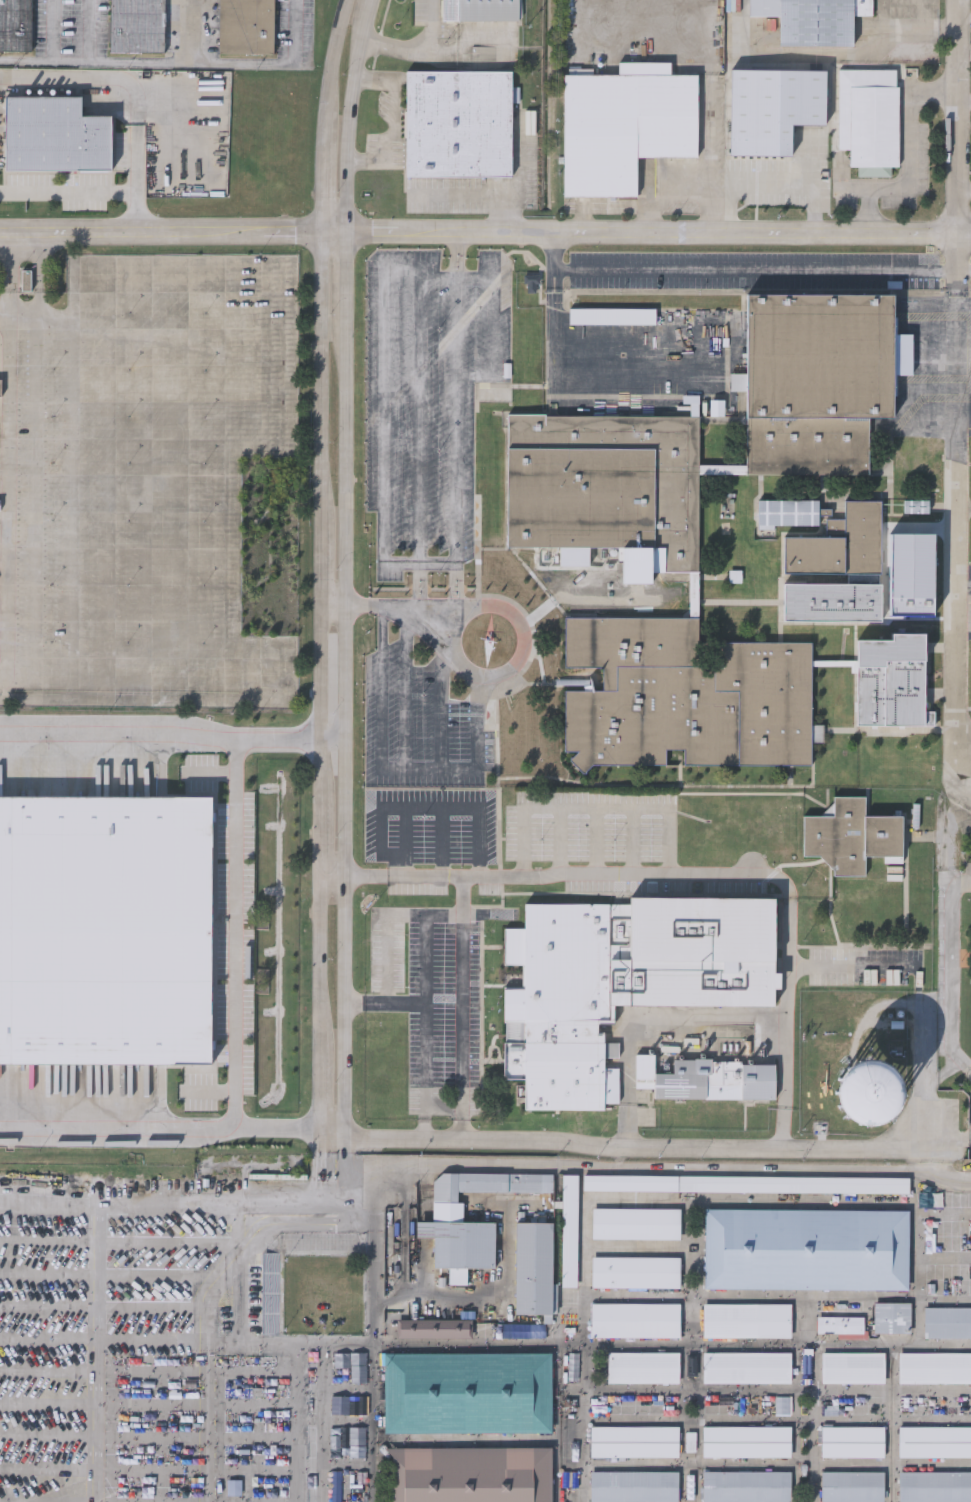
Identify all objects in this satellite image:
building: (480, 9)
road: (882, 14)
building: (813, 19)
building: (15, 25)
building: (137, 25)
building: (245, 25)
road: (431, 26)
road: (189, 30)
road: (922, 34)
building: (73, 43)
road: (390, 48)
road: (24, 57)
road: (69, 58)
road: (219, 61)
road: (966, 102)
building: (772, 108)
road: (962, 116)
building: (868, 117)
road: (392, 119)
building: (458, 122)
building: (624, 126)
building: (56, 132)
road: (912, 156)
road: (522, 163)
road: (773, 185)
road: (86, 192)
road: (485, 192)
road: (674, 192)
road: (485, 231)
road: (459, 255)
road: (200, 258)
road: (962, 261)
parking lot: (755, 271)
road: (763, 271)
road: (12, 276)
road: (40, 276)
road: (440, 279)
building: (534, 283)
building: (614, 317)
road: (12, 320)
road: (109, 321)
road: (494, 327)
building: (820, 357)
road: (566, 366)
building: (0, 384)
parking lot: (431, 403)
road: (385, 429)
building: (808, 447)
road: (724, 468)
building: (607, 483)
road: (7, 507)
road: (36, 507)
road: (72, 508)
road: (109, 508)
road: (146, 508)
building: (789, 514)
building: (840, 542)
road: (958, 584)
road: (460, 585)
road: (422, 586)
road: (695, 594)
building: (830, 600)
road: (399, 607)
road: (197, 608)
road: (240, 638)
road: (458, 653)
road: (835, 662)
building: (894, 680)
road: (409, 688)
road: (444, 688)
building: (684, 694)
road: (268, 696)
flagpole: (514, 697)
flagpole: (513, 703)
flagpole: (511, 710)
parking lot: (423, 713)
road: (172, 732)
road: (398, 769)
road: (501, 774)
road: (429, 809)
parking lot: (430, 826)
parking lot: (594, 827)
building: (851, 834)
road: (405, 840)
road: (443, 841)
road: (596, 871)
road: (357, 873)
road: (962, 878)
road: (463, 894)
road: (389, 921)
road: (236, 932)
building: (146, 953)
road: (853, 966)
parking lot: (869, 967)
road: (954, 969)
building: (620, 980)
parking lot: (435, 1000)
road: (789, 1001)
road: (404, 1002)
road: (426, 1011)
road: (464, 1011)
road: (668, 1022)
building: (9, 1056)
road: (484, 1059)
road: (962, 1067)
building: (703, 1078)
building: (865, 1093)
water tower: (865, 1093)
road: (446, 1109)
road: (630, 1127)
road: (166, 1129)
road: (787, 1130)
road: (333, 1132)
road: (950, 1145)
road: (630, 1148)
road: (650, 1167)
road: (942, 1175)
building: (744, 1183)
road: (354, 1194)
road: (597, 1196)
road: (317, 1200)
road: (117, 1207)
road: (943, 1211)
road: (298, 1223)
building: (635, 1223)
building: (453, 1229)
building: (568, 1230)
building: (805, 1249)
road: (943, 1256)
building: (531, 1268)
building: (634, 1272)
road: (915, 1277)
road: (750, 1295)
road: (693, 1298)
building: (891, 1317)
building: (633, 1320)
building: (745, 1320)
building: (947, 1321)
building: (839, 1324)
building: (433, 1328)
parking lot: (123, 1336)
road: (342, 1340)
road: (204, 1348)
road: (100, 1355)
building: (745, 1366)
building: (641, 1367)
building: (851, 1367)
building: (934, 1367)
building: (465, 1392)
road: (796, 1398)
road: (778, 1400)
building: (784, 1406)
road: (372, 1422)
building: (745, 1440)
building: (632, 1441)
building: (851, 1441)
building: (934, 1441)
building: (468, 1474)
building: (745, 1485)
building: (632, 1486)
building: (851, 1486)
building: (934, 1487)

